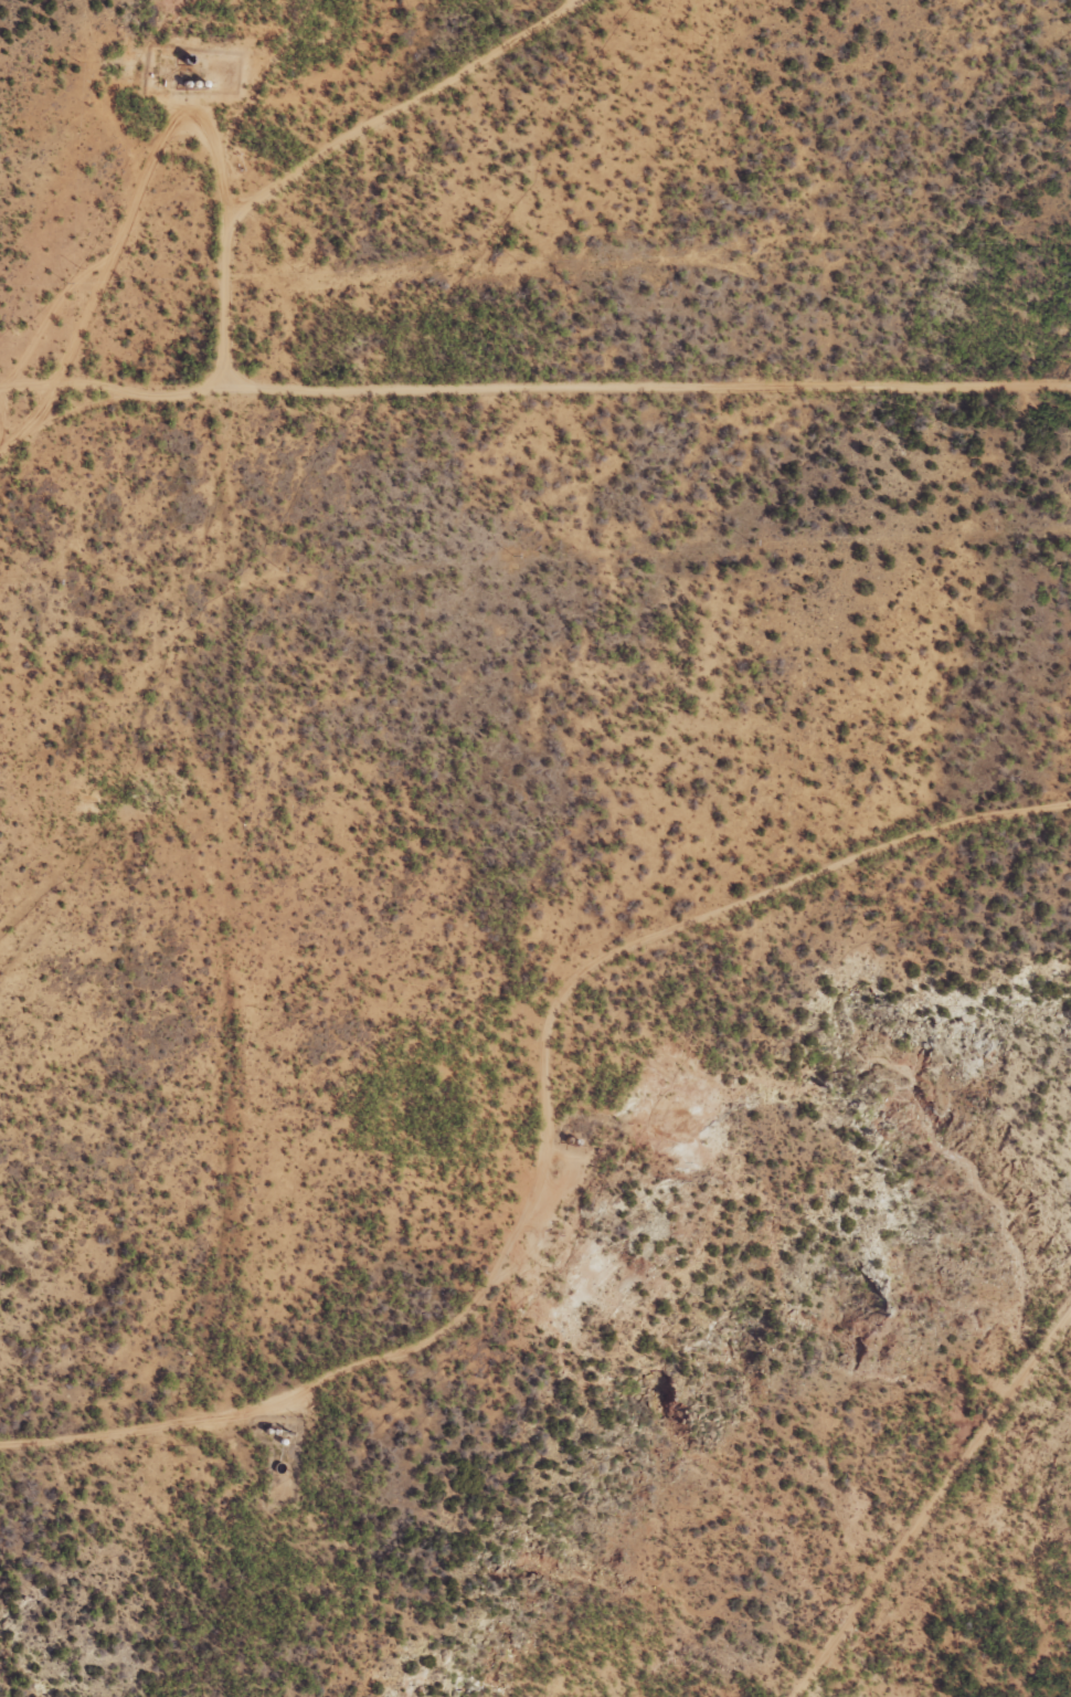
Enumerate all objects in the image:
road: (443, 135)
road: (535, 407)
road: (221, 700)
road: (490, 1118)
road: (940, 1520)

